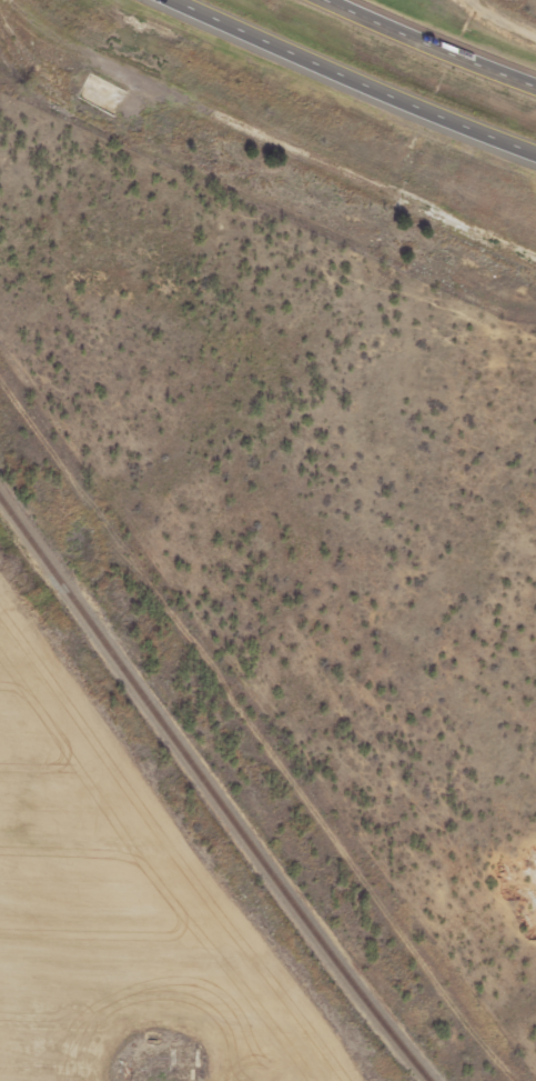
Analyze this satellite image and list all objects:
road: (433, 44)
road: (346, 82)
road: (252, 733)
railway: (211, 790)

